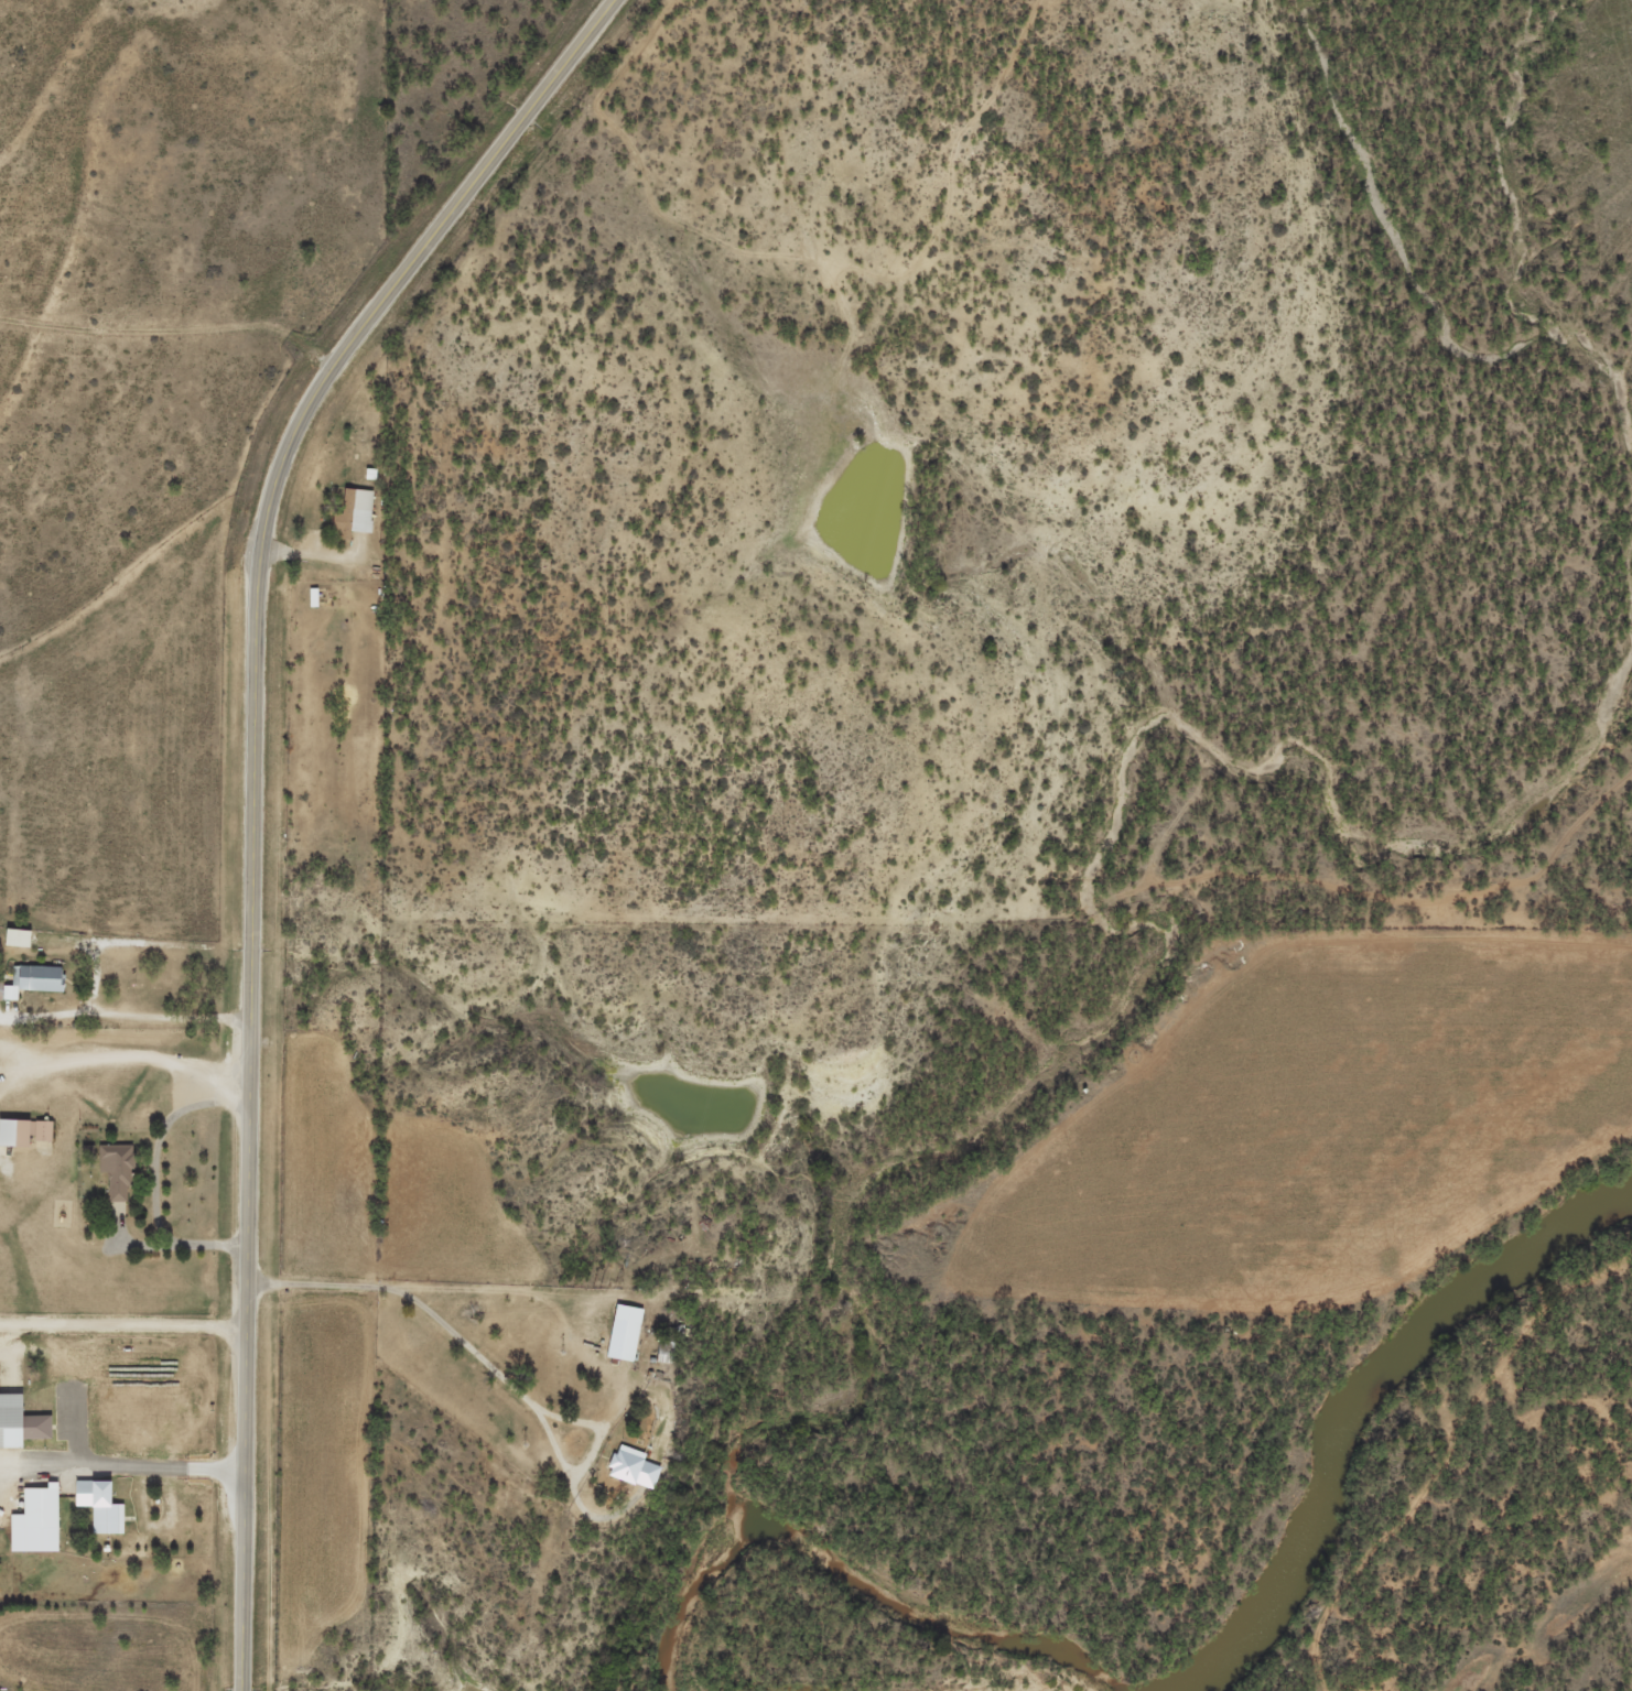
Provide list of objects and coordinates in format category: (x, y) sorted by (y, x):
building: (357, 511)
building: (316, 597)
road: (255, 790)
building: (21, 936)
building: (34, 979)
road: (126, 1005)
building: (28, 1130)
building: (121, 1168)
building: (627, 1332)
building: (22, 1421)
building: (637, 1466)
building: (105, 1505)
building: (40, 1520)

